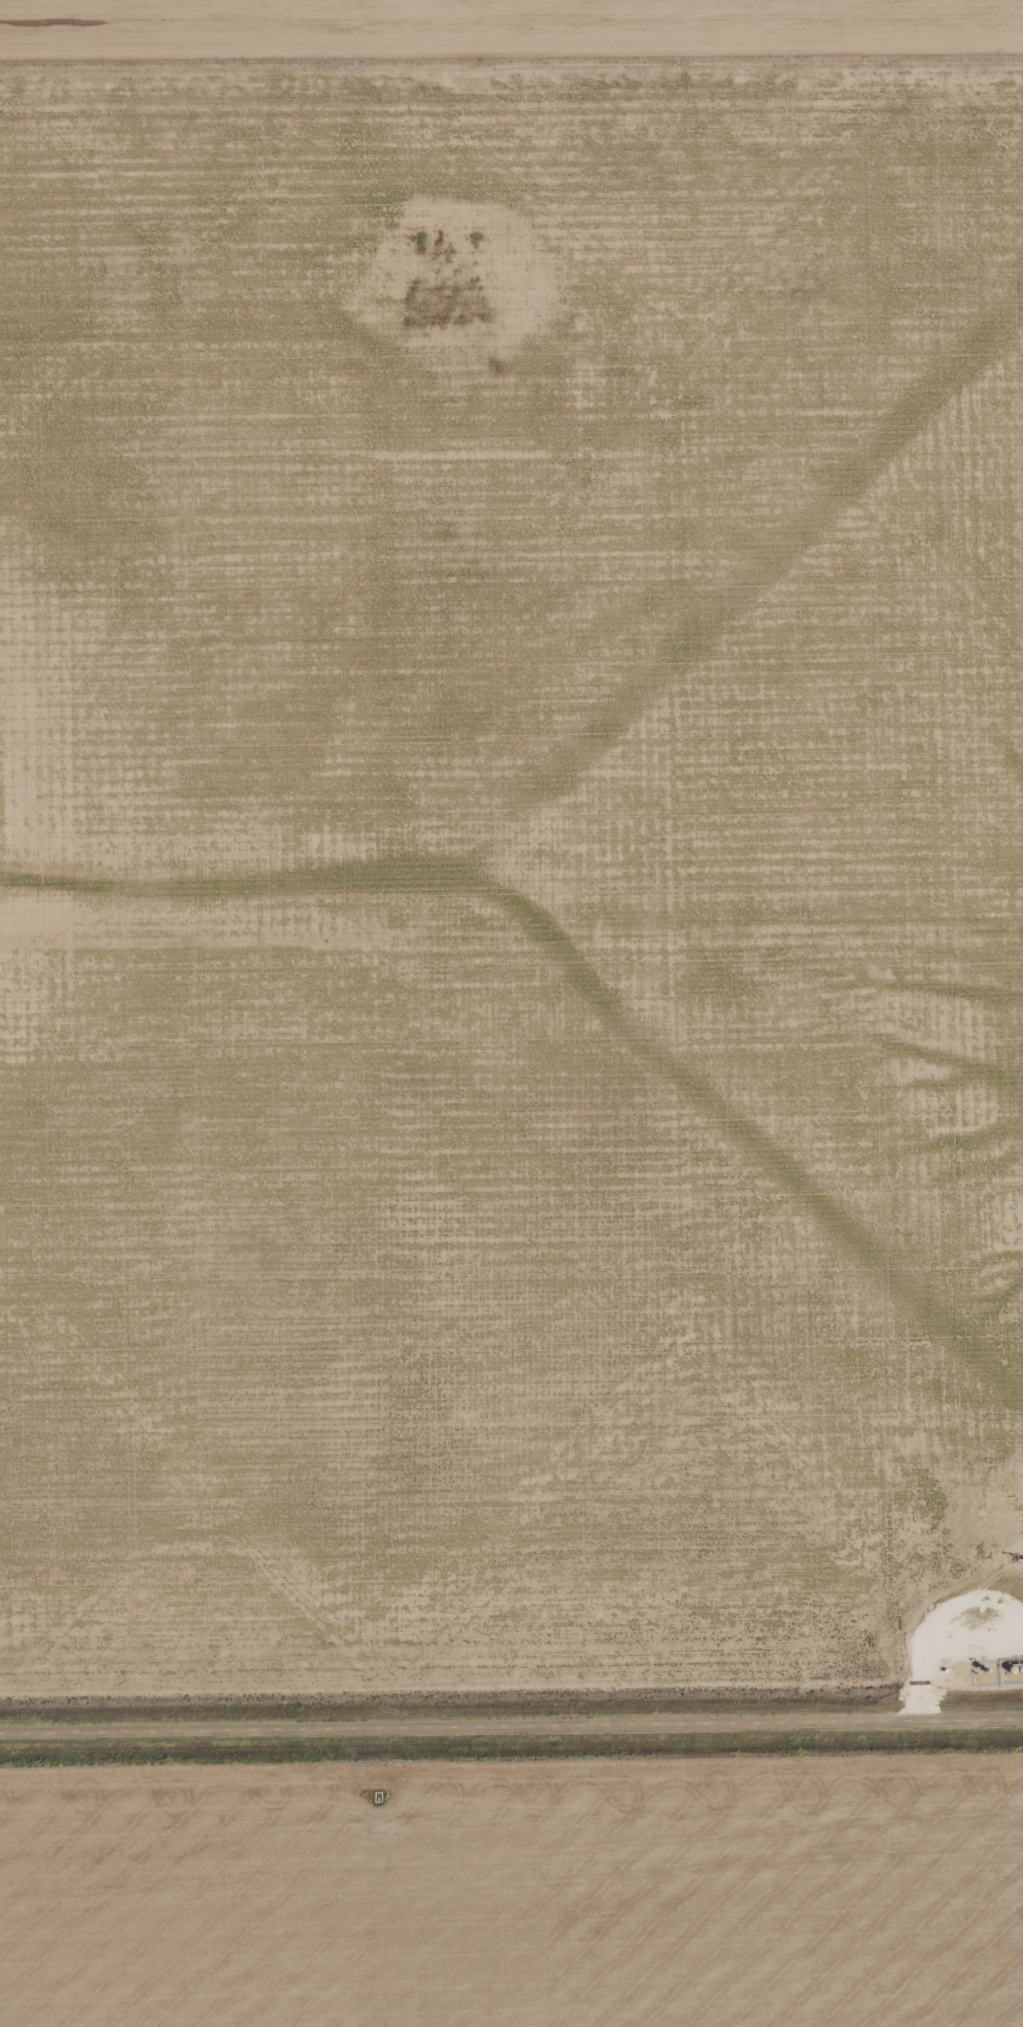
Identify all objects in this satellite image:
petroleum well: (1021, 1554)
road: (511, 1730)

